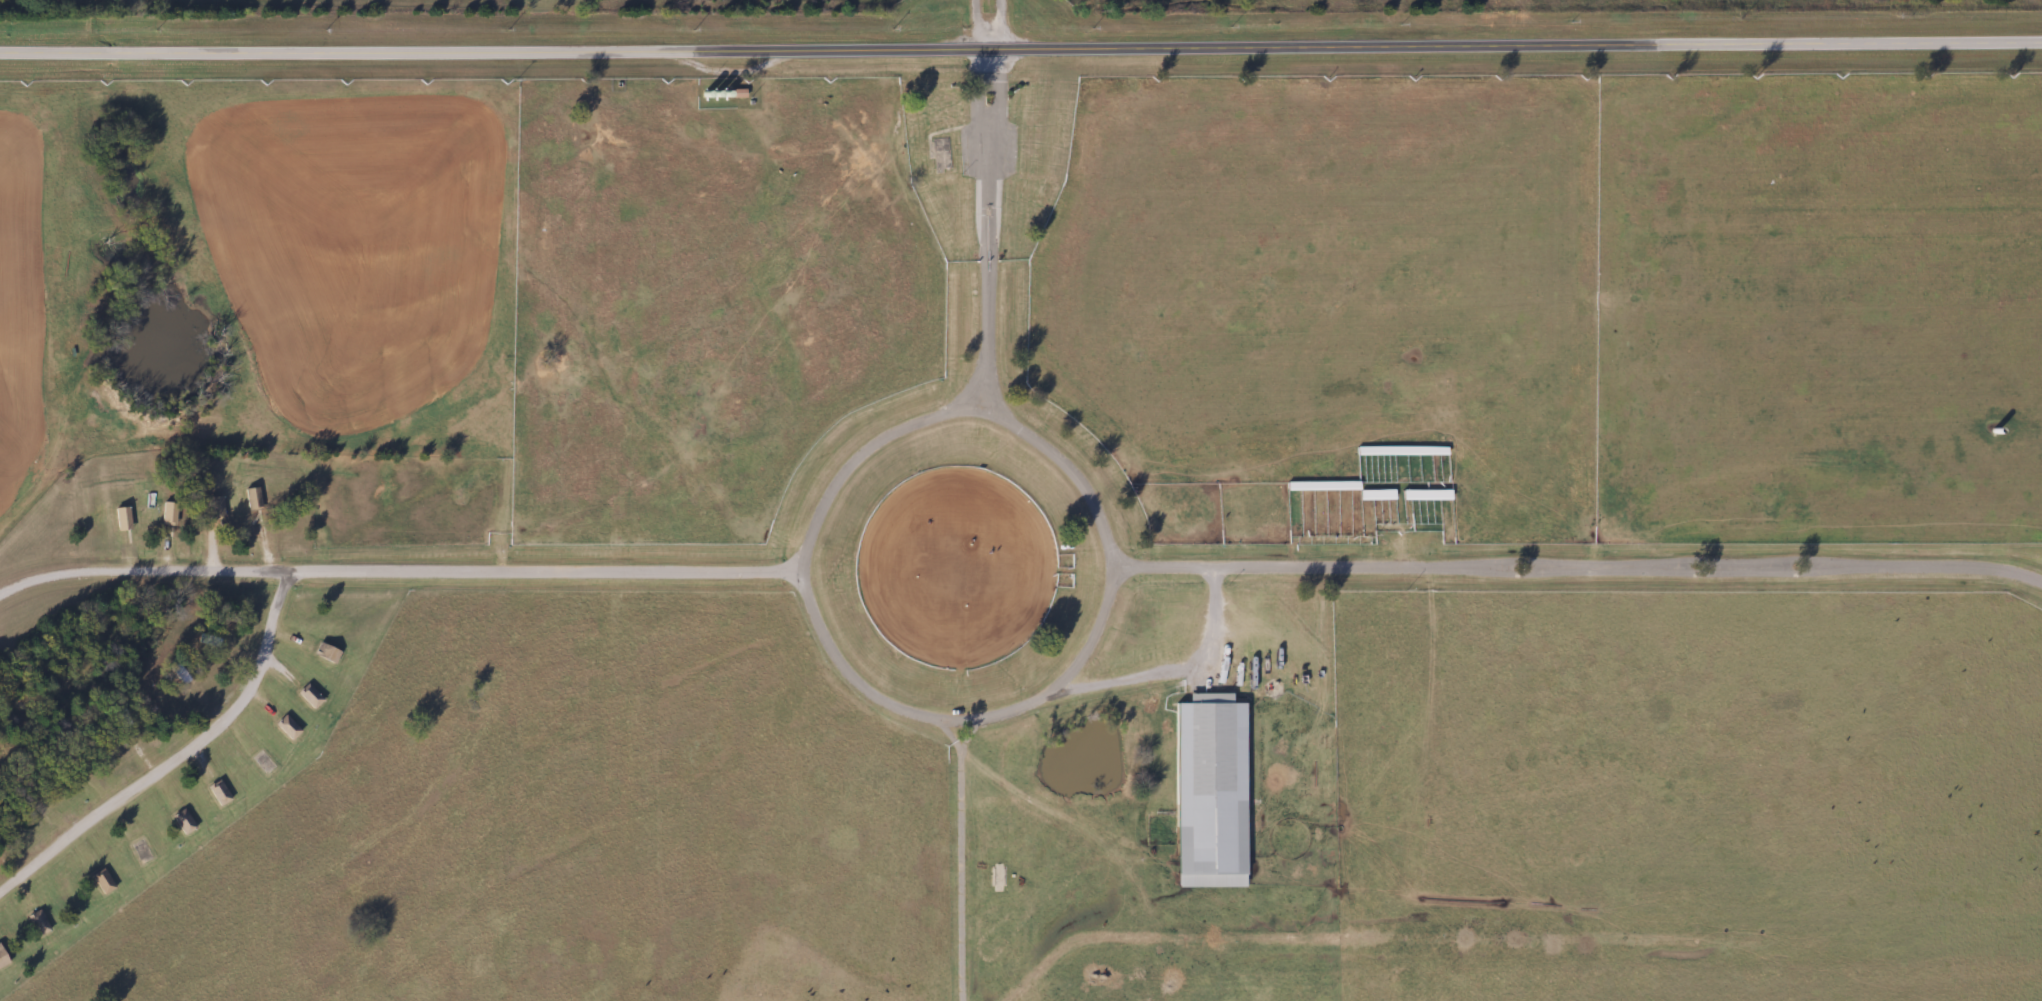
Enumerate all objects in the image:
road: (977, 24)
road: (1006, 24)
road: (1020, 47)
road: (982, 228)
road: (961, 413)
building: (251, 499)
building: (214, 508)
building: (166, 514)
building: (120, 519)
road: (1580, 566)
road: (400, 571)
building: (325, 653)
road: (1179, 668)
building: (308, 696)
road: (964, 717)
building: (286, 727)
road: (182, 759)
building: (1208, 792)
building: (217, 793)
building: (181, 822)
road: (965, 859)
building: (999, 878)
building: (101, 881)
building: (35, 923)
building: (2, 959)

